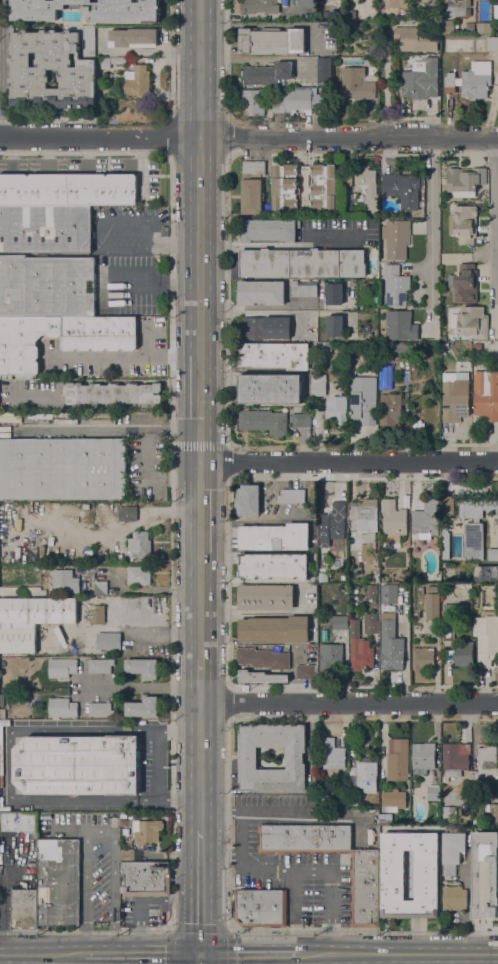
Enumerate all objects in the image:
building: (307, 3)
building: (394, 3)
building: (428, 3)
building: (260, 6)
building: (457, 7)
building: (88, 10)
building: (496, 10)
building: (442, 16)
building: (448, 26)
building: (484, 27)
building: (133, 38)
building: (415, 39)
building: (89, 41)
building: (272, 41)
building: (492, 43)
building: (119, 60)
building: (106, 62)
road: (2, 69)
building: (324, 70)
building: (29, 71)
building: (267, 73)
building: (137, 80)
building: (421, 80)
building: (471, 80)
building: (358, 83)
road: (387, 89)
building: (297, 100)
building: (254, 102)
road: (249, 139)
road: (142, 170)
building: (347, 179)
building: (465, 181)
building: (305, 186)
building: (252, 187)
building: (68, 189)
building: (368, 189)
building: (403, 189)
road: (96, 218)
building: (464, 223)
building: (45, 229)
building: (270, 230)
road: (434, 234)
building: (397, 238)
road: (299, 244)
road: (176, 245)
road: (218, 245)
road: (241, 245)
building: (303, 263)
building: (464, 284)
building: (396, 285)
building: (47, 286)
building: (303, 288)
building: (261, 292)
building: (334, 293)
building: (472, 322)
building: (401, 325)
building: (335, 326)
building: (267, 327)
road: (200, 330)
building: (477, 346)
building: (99, 347)
building: (324, 347)
building: (400, 348)
building: (275, 355)
road: (88, 356)
building: (386, 376)
building: (318, 384)
building: (271, 388)
building: (112, 393)
building: (486, 395)
building: (455, 397)
building: (363, 399)
building: (337, 410)
building: (391, 410)
building: (301, 419)
building: (264, 421)
road: (108, 431)
road: (349, 462)
building: (63, 468)
road: (150, 479)
building: (292, 495)
building: (248, 500)
building: (477, 507)
building: (127, 513)
building: (425, 520)
building: (332, 522)
building: (393, 523)
building: (367, 524)
building: (275, 536)
building: (473, 541)
building: (445, 543)
building: (139, 545)
building: (117, 557)
building: (273, 565)
building: (481, 573)
building: (139, 575)
building: (65, 581)
building: (100, 587)
building: (475, 588)
building: (19, 590)
building: (371, 591)
building: (43, 592)
building: (388, 593)
building: (266, 597)
building: (432, 603)
building: (37, 611)
building: (97, 614)
building: (321, 619)
building: (450, 620)
building: (340, 622)
building: (371, 623)
building: (274, 630)
building: (486, 637)
building: (18, 640)
building: (108, 641)
building: (391, 646)
building: (359, 648)
building: (460, 654)
building: (330, 656)
building: (262, 658)
building: (423, 658)
building: (100, 665)
building: (62, 667)
building: (143, 667)
building: (305, 671)
building: (262, 677)
building: (14, 682)
road: (200, 682)
building: (6, 683)
road: (143, 686)
road: (349, 703)
building: (143, 707)
building: (62, 708)
building: (100, 709)
building: (332, 754)
building: (248, 755)
building: (423, 757)
building: (455, 758)
building: (398, 760)
building: (486, 762)
building: (77, 764)
road: (200, 765)
building: (364, 776)
building: (489, 784)
building: (323, 792)
building: (434, 793)
building: (369, 800)
building: (393, 801)
building: (464, 806)
road: (263, 810)
building: (490, 812)
building: (449, 813)
building: (123, 815)
building: (19, 822)
building: (445, 827)
road: (99, 828)
building: (148, 831)
building: (453, 850)
road: (244, 854)
road: (327, 868)
building: (486, 874)
building: (427, 875)
building: (143, 877)
building: (59, 882)
building: (364, 890)
road: (201, 891)
building: (454, 898)
building: (260, 908)
building: (24, 909)
road: (200, 928)
road: (86, 932)
road: (42, 953)
road: (143, 953)
traffic signals: (202, 953)
road: (251, 953)
road: (399, 953)
road: (202, 958)
road: (268, 958)
road: (4, 959)

